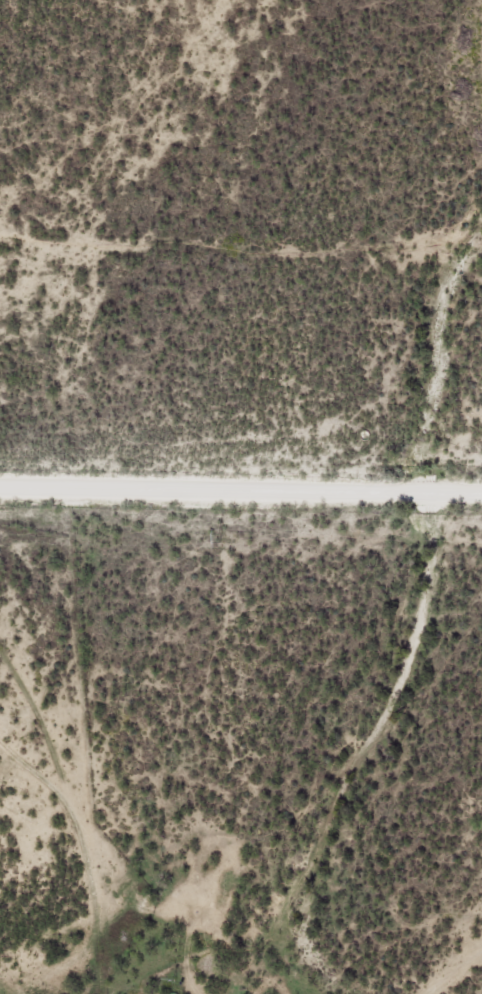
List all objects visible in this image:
road: (240, 501)
power tower: (218, 537)
road: (46, 821)
road: (50, 953)

